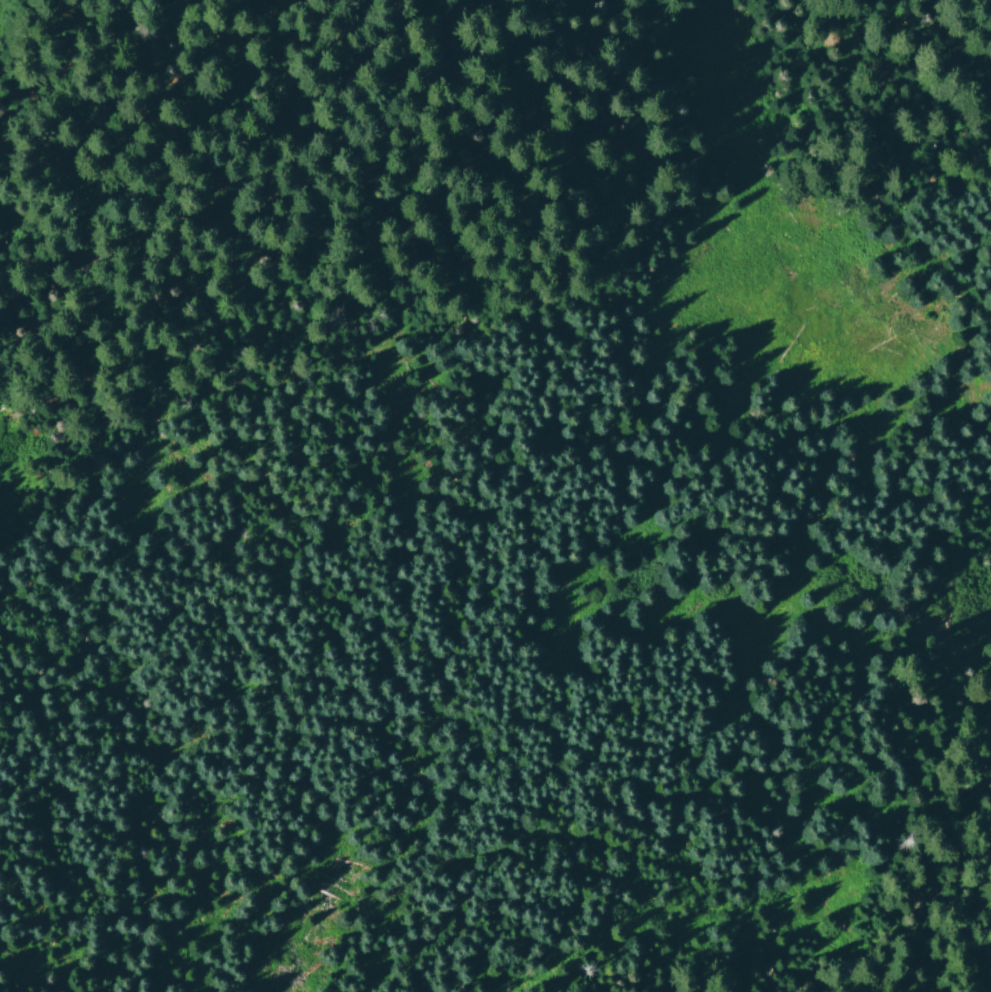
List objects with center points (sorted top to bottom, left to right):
road: (588, 836)
road: (767, 964)

